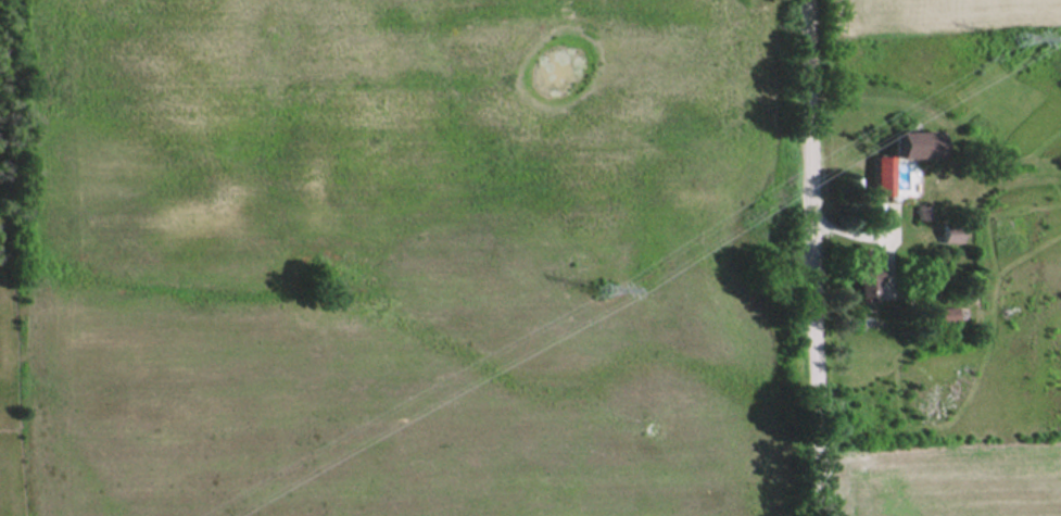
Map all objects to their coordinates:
power tower: (1014, 38)
building: (914, 142)
building: (882, 174)
building: (952, 234)
road: (816, 257)
building: (868, 277)
power tower: (599, 287)
building: (948, 313)

